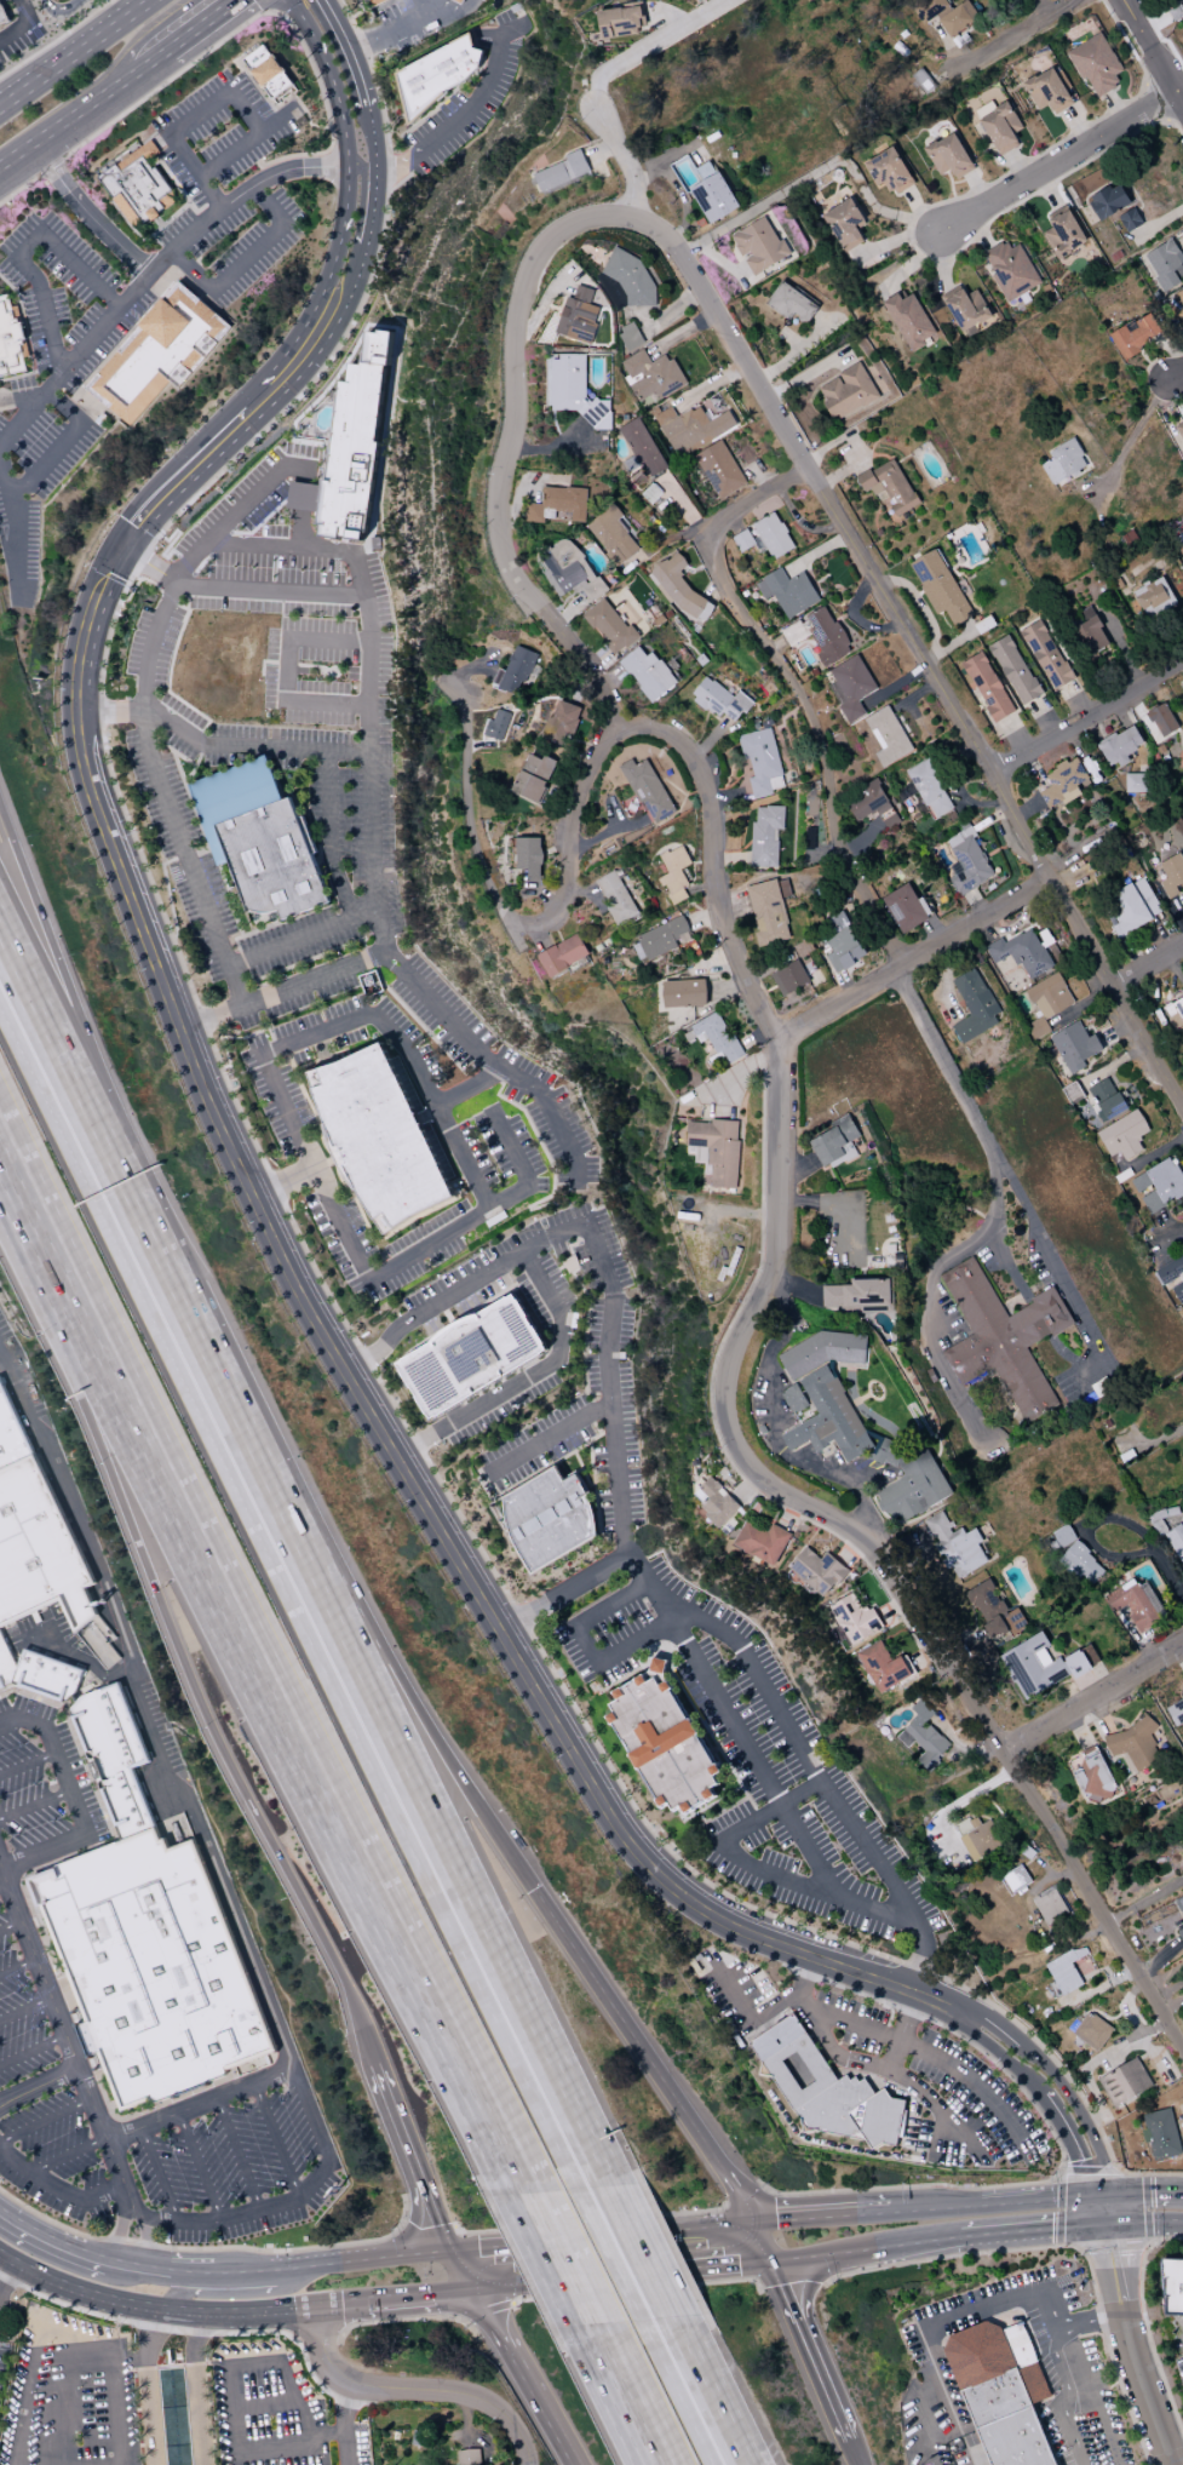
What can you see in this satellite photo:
road: (271, 1)
road: (274, 1)
building: (460, 1)
building: (375, 2)
road: (1120, 2)
road: (1122, 2)
road: (272, 7)
building: (928, 8)
building: (969, 10)
road: (58, 11)
building: (1175, 12)
road: (1144, 13)
building: (1, 17)
building: (619, 21)
building: (954, 21)
road: (22, 22)
road: (200, 23)
road: (1152, 27)
road: (228, 36)
road: (391, 36)
road: (54, 39)
road: (650, 45)
road: (76, 51)
road: (953, 51)
road: (988, 51)
road: (1153, 56)
road: (153, 57)
building: (1095, 63)
building: (269, 71)
building: (437, 74)
building: (921, 80)
building: (918, 91)
building: (1047, 91)
road: (1159, 98)
road: (1114, 108)
road: (470, 111)
road: (69, 116)
road: (184, 124)
building: (1000, 126)
road: (1075, 126)
road: (249, 142)
road: (674, 153)
building: (948, 155)
road: (997, 159)
road: (625, 160)
road: (1056, 161)
road: (350, 166)
building: (888, 170)
building: (561, 171)
road: (378, 172)
road: (812, 173)
building: (137, 185)
road: (976, 188)
road: (677, 190)
road: (1045, 190)
building: (712, 196)
building: (1107, 200)
road: (919, 212)
road: (86, 213)
road: (913, 214)
road: (362, 219)
building: (1129, 219)
building: (844, 223)
road: (1156, 223)
road: (976, 230)
building: (1062, 231)
building: (1178, 234)
road: (894, 240)
building: (759, 245)
road: (23, 250)
road: (940, 260)
road: (246, 262)
road: (720, 262)
road: (912, 263)
building: (1164, 264)
road: (741, 269)
road: (154, 270)
building: (1010, 270)
road: (1179, 274)
building: (632, 280)
building: (1179, 302)
building: (789, 303)
building: (965, 308)
building: (576, 316)
building: (908, 320)
building: (628, 336)
building: (1133, 336)
road: (25, 338)
road: (791, 339)
building: (8, 340)
road: (733, 344)
road: (798, 351)
road: (1171, 351)
building: (157, 352)
road: (808, 373)
building: (649, 374)
road: (1175, 374)
building: (570, 389)
building: (846, 391)
road: (16, 397)
building: (690, 428)
building: (1179, 429)
road: (1130, 436)
road: (506, 438)
road: (839, 438)
road: (59, 443)
building: (352, 445)
road: (871, 447)
building: (639, 448)
road: (874, 455)
road: (902, 458)
building: (1066, 459)
building: (718, 469)
road: (839, 475)
building: (889, 486)
road: (759, 497)
building: (557, 504)
road: (15, 534)
building: (610, 534)
building: (763, 537)
road: (242, 544)
building: (1181, 550)
building: (568, 571)
building: (679, 587)
building: (940, 587)
building: (786, 591)
road: (917, 594)
building: (1150, 596)
road: (918, 604)
building: (983, 624)
building: (608, 626)
road: (967, 626)
building: (817, 635)
building: (1089, 635)
road: (944, 647)
road: (1121, 648)
building: (1045, 654)
road: (142, 657)
building: (1013, 669)
building: (513, 671)
building: (647, 673)
building: (986, 686)
building: (849, 687)
road: (1155, 688)
building: (1182, 694)
building: (720, 700)
road: (1075, 703)
road: (1135, 705)
road: (1119, 715)
road: (1086, 716)
road: (1044, 718)
building: (1161, 720)
building: (561, 722)
building: (495, 726)
building: (886, 735)
road: (1016, 735)
road: (817, 740)
road: (217, 744)
building: (1119, 745)
road: (177, 753)
road: (1084, 753)
building: (759, 762)
road: (193, 763)
road: (1032, 772)
building: (533, 776)
building: (1136, 781)
building: (1062, 783)
building: (928, 789)
road: (997, 789)
building: (647, 790)
building: (228, 793)
road: (1027, 803)
building: (871, 804)
road: (467, 819)
road: (195, 820)
road: (570, 835)
building: (764, 835)
road: (331, 836)
building: (528, 855)
building: (268, 858)
building: (673, 873)
building: (1171, 873)
road: (1069, 878)
road: (163, 889)
building: (1145, 896)
building: (614, 898)
road: (1179, 904)
building: (905, 907)
building: (1127, 908)
building: (768, 911)
road: (234, 921)
road: (384, 930)
road: (1165, 930)
road: (303, 936)
building: (656, 939)
building: (839, 942)
road: (52, 947)
building: (1020, 952)
building: (561, 956)
road: (400, 958)
road: (911, 961)
road: (1145, 963)
road: (390, 967)
road: (266, 974)
building: (788, 978)
road: (262, 982)
building: (682, 993)
building: (1046, 1002)
building: (972, 1005)
road: (39, 1007)
building: (1173, 1011)
road: (414, 1017)
building: (714, 1036)
road: (235, 1037)
building: (1073, 1047)
road: (409, 1053)
road: (320, 1060)
road: (507, 1071)
road: (725, 1073)
road: (469, 1087)
building: (1106, 1097)
building: (1122, 1135)
building: (378, 1136)
building: (832, 1142)
building: (713, 1150)
road: (1001, 1166)
road: (285, 1181)
building: (1158, 1185)
road: (345, 1186)
road: (570, 1209)
road: (23, 1211)
road: (285, 1211)
road: (287, 1260)
road: (775, 1267)
road: (167, 1269)
road: (378, 1272)
building: (1171, 1277)
road: (1017, 1280)
building: (857, 1296)
road: (461, 1318)
road: (924, 1320)
building: (1001, 1337)
building: (822, 1352)
building: (471, 1355)
road: (530, 1375)
road: (602, 1392)
building: (822, 1416)
building: (10, 1435)
road: (1166, 1435)
road: (547, 1437)
road: (552, 1463)
road: (581, 1468)
building: (908, 1481)
road: (591, 1485)
road: (595, 1486)
building: (714, 1502)
road: (621, 1517)
building: (550, 1519)
building: (760, 1541)
building: (1176, 1542)
building: (954, 1546)
building: (36, 1550)
road: (1159, 1555)
building: (1079, 1563)
building: (816, 1571)
road: (567, 1590)
road: (293, 1598)
building: (1135, 1604)
building: (993, 1611)
building: (854, 1618)
road: (275, 1633)
road: (667, 1638)
road: (590, 1649)
building: (1041, 1664)
building: (5, 1666)
road: (396, 1667)
building: (883, 1668)
road: (189, 1670)
building: (45, 1675)
road: (691, 1703)
building: (1175, 1712)
road: (143, 1714)
road: (277, 1725)
road: (1038, 1730)
building: (921, 1737)
building: (664, 1741)
building: (1132, 1744)
road: (751, 1754)
building: (111, 1755)
road: (28, 1764)
building: (1095, 1778)
parking lot: (24, 1787)
road: (74, 1801)
road: (432, 1802)
road: (35, 1805)
road: (699, 1810)
road: (722, 1812)
building: (977, 1834)
road: (753, 1865)
building: (1013, 1879)
road: (2, 1884)
road: (1143, 1899)
road: (1091, 1903)
building: (1179, 1904)
building: (1049, 1907)
road: (10, 1925)
building: (1179, 1931)
road: (17, 1967)
building: (149, 1967)
building: (1064, 1970)
road: (1170, 2003)
road: (737, 2005)
road: (773, 2006)
road: (24, 2008)
road: (58, 2019)
road: (900, 2030)
building: (1091, 2031)
road: (33, 2050)
road: (639, 2053)
road: (995, 2053)
road: (857, 2060)
road: (948, 2064)
road: (1057, 2079)
road: (877, 2081)
road: (45, 2082)
building: (1124, 2082)
building: (831, 2097)
road: (6, 2098)
road: (6, 2103)
road: (202, 2103)
road: (911, 2117)
road: (45, 2120)
road: (323, 2134)
building: (1160, 2134)
road: (277, 2138)
road: (1057, 2143)
road: (1064, 2143)
road: (239, 2151)
road: (68, 2154)
road: (410, 2156)
parking lot: (220, 2157)
road: (199, 2163)
road: (159, 2172)
road: (1119, 2172)
road: (1059, 2175)
road: (1090, 2175)
road: (54, 2185)
road: (1147, 2190)
traffic signals: (1113, 2191)
road: (1095, 2192)
traffic signals: (1076, 2195)
road: (983, 2202)
road: (1107, 2207)
road: (1089, 2209)
road: (119, 2214)
road: (220, 2214)
road: (817, 2214)
road: (138, 2217)
traffic signals: (745, 2219)
road: (1142, 2219)
road: (670, 2224)
traffic signals: (1102, 2224)
road: (753, 2229)
road: (1030, 2230)
road: (573, 2232)
road: (52, 2241)
road: (498, 2242)
road: (866, 2247)
road: (768, 2248)
traffic signals: (447, 2249)
road: (651, 2249)
road: (615, 2252)
road: (547, 2253)
traffic signals: (774, 2258)
road: (580, 2259)
road: (719, 2263)
road: (332, 2264)
road: (128, 2265)
road: (159, 2270)
road: (191, 2272)
road: (459, 2272)
road: (647, 2272)
road: (2, 2275)
road: (598, 2278)
road: (522, 2288)
building: (1172, 2288)
road: (74, 2291)
road: (231, 2295)
traffic signals: (473, 2295)
road: (419, 2300)
road: (339, 2306)
road: (982, 2308)
road: (178, 2311)
road: (482, 2311)
road: (257, 2312)
road: (1127, 2346)
road: (804, 2352)
road: (90, 2355)
road: (1059, 2364)
road: (228, 2381)
road: (145, 2386)
road: (194, 2387)
road: (410, 2389)
road: (684, 2390)
parking lot: (68, 2391)
road: (615, 2391)
building: (1001, 2392)
road: (527, 2396)
road: (648, 2396)
road: (1089, 2397)
road: (259, 2403)
road: (727, 2403)
parking lot: (264, 2404)
road: (65, 2415)
road: (921, 2415)
road: (953, 2415)
road: (340, 2423)
fountain: (173, 2427)
road: (322, 2434)
road: (844, 2455)
building: (465, 2457)
road: (1179, 2463)

